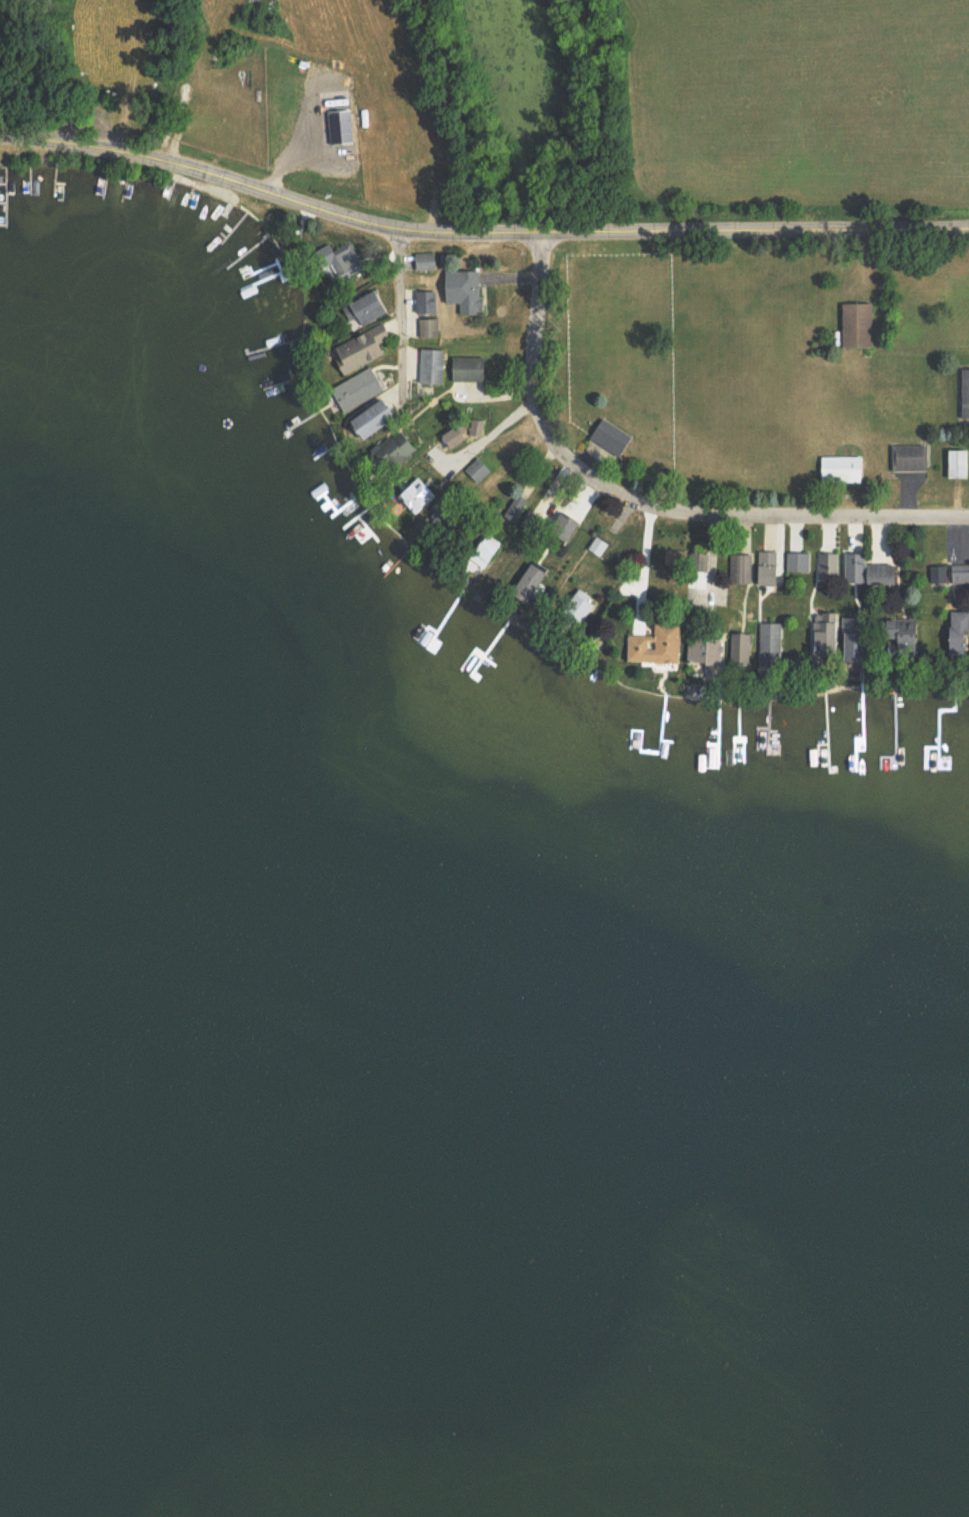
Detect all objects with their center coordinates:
building: (336, 125)
road: (478, 235)
building: (331, 259)
building: (422, 259)
building: (465, 291)
building: (423, 300)
building: (359, 307)
road: (399, 322)
building: (852, 323)
building: (426, 326)
building: (429, 364)
building: (464, 367)
building: (352, 388)
building: (963, 392)
building: (363, 417)
building: (474, 426)
building: (447, 435)
building: (606, 435)
building: (906, 456)
building: (953, 462)
building: (837, 467)
building: (475, 469)
building: (407, 495)
building: (513, 506)
road: (643, 507)
building: (560, 526)
building: (480, 551)
building: (794, 560)
building: (697, 561)
building: (826, 565)
building: (763, 566)
building: (738, 567)
building: (863, 570)
building: (935, 572)
building: (958, 572)
building: (524, 582)
building: (573, 608)
building: (953, 629)
building: (821, 631)
building: (769, 636)
building: (898, 636)
building: (651, 644)
building: (845, 645)
building: (739, 646)
building: (700, 650)

